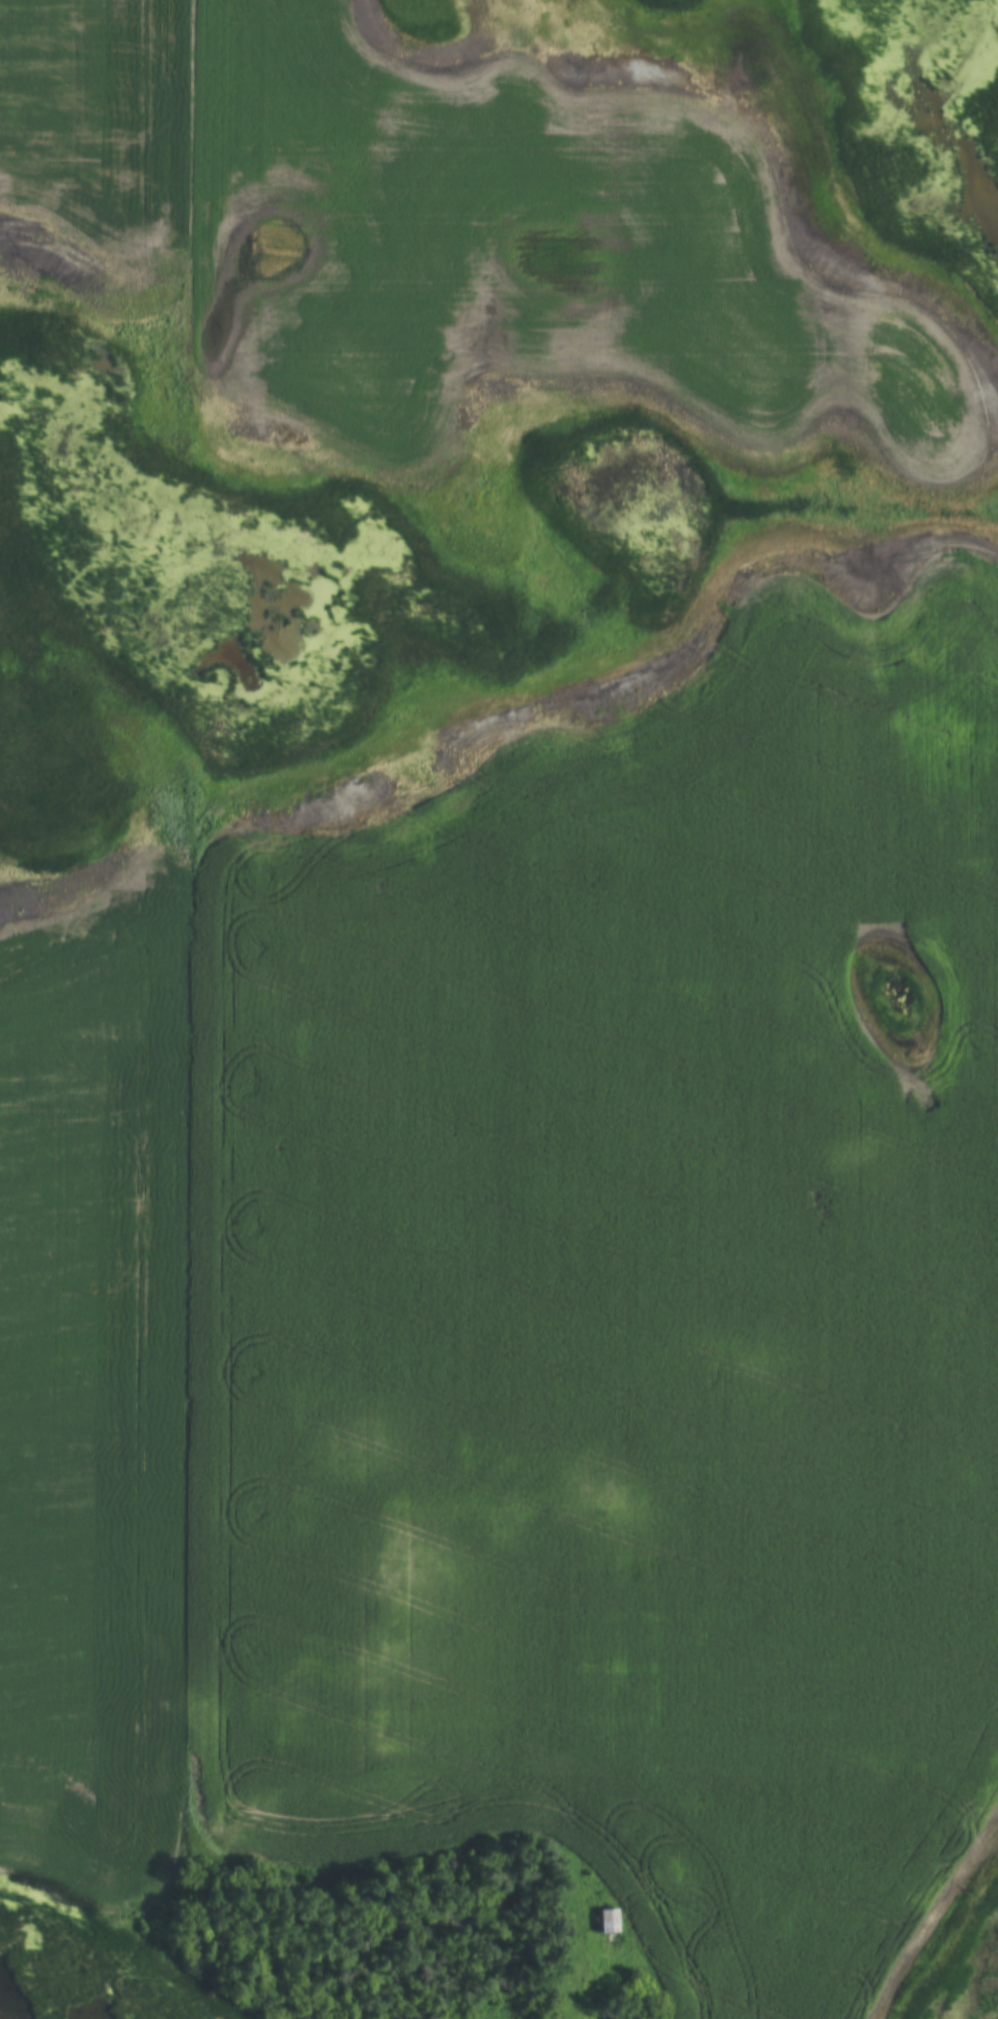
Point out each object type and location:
building: (610, 1920)

